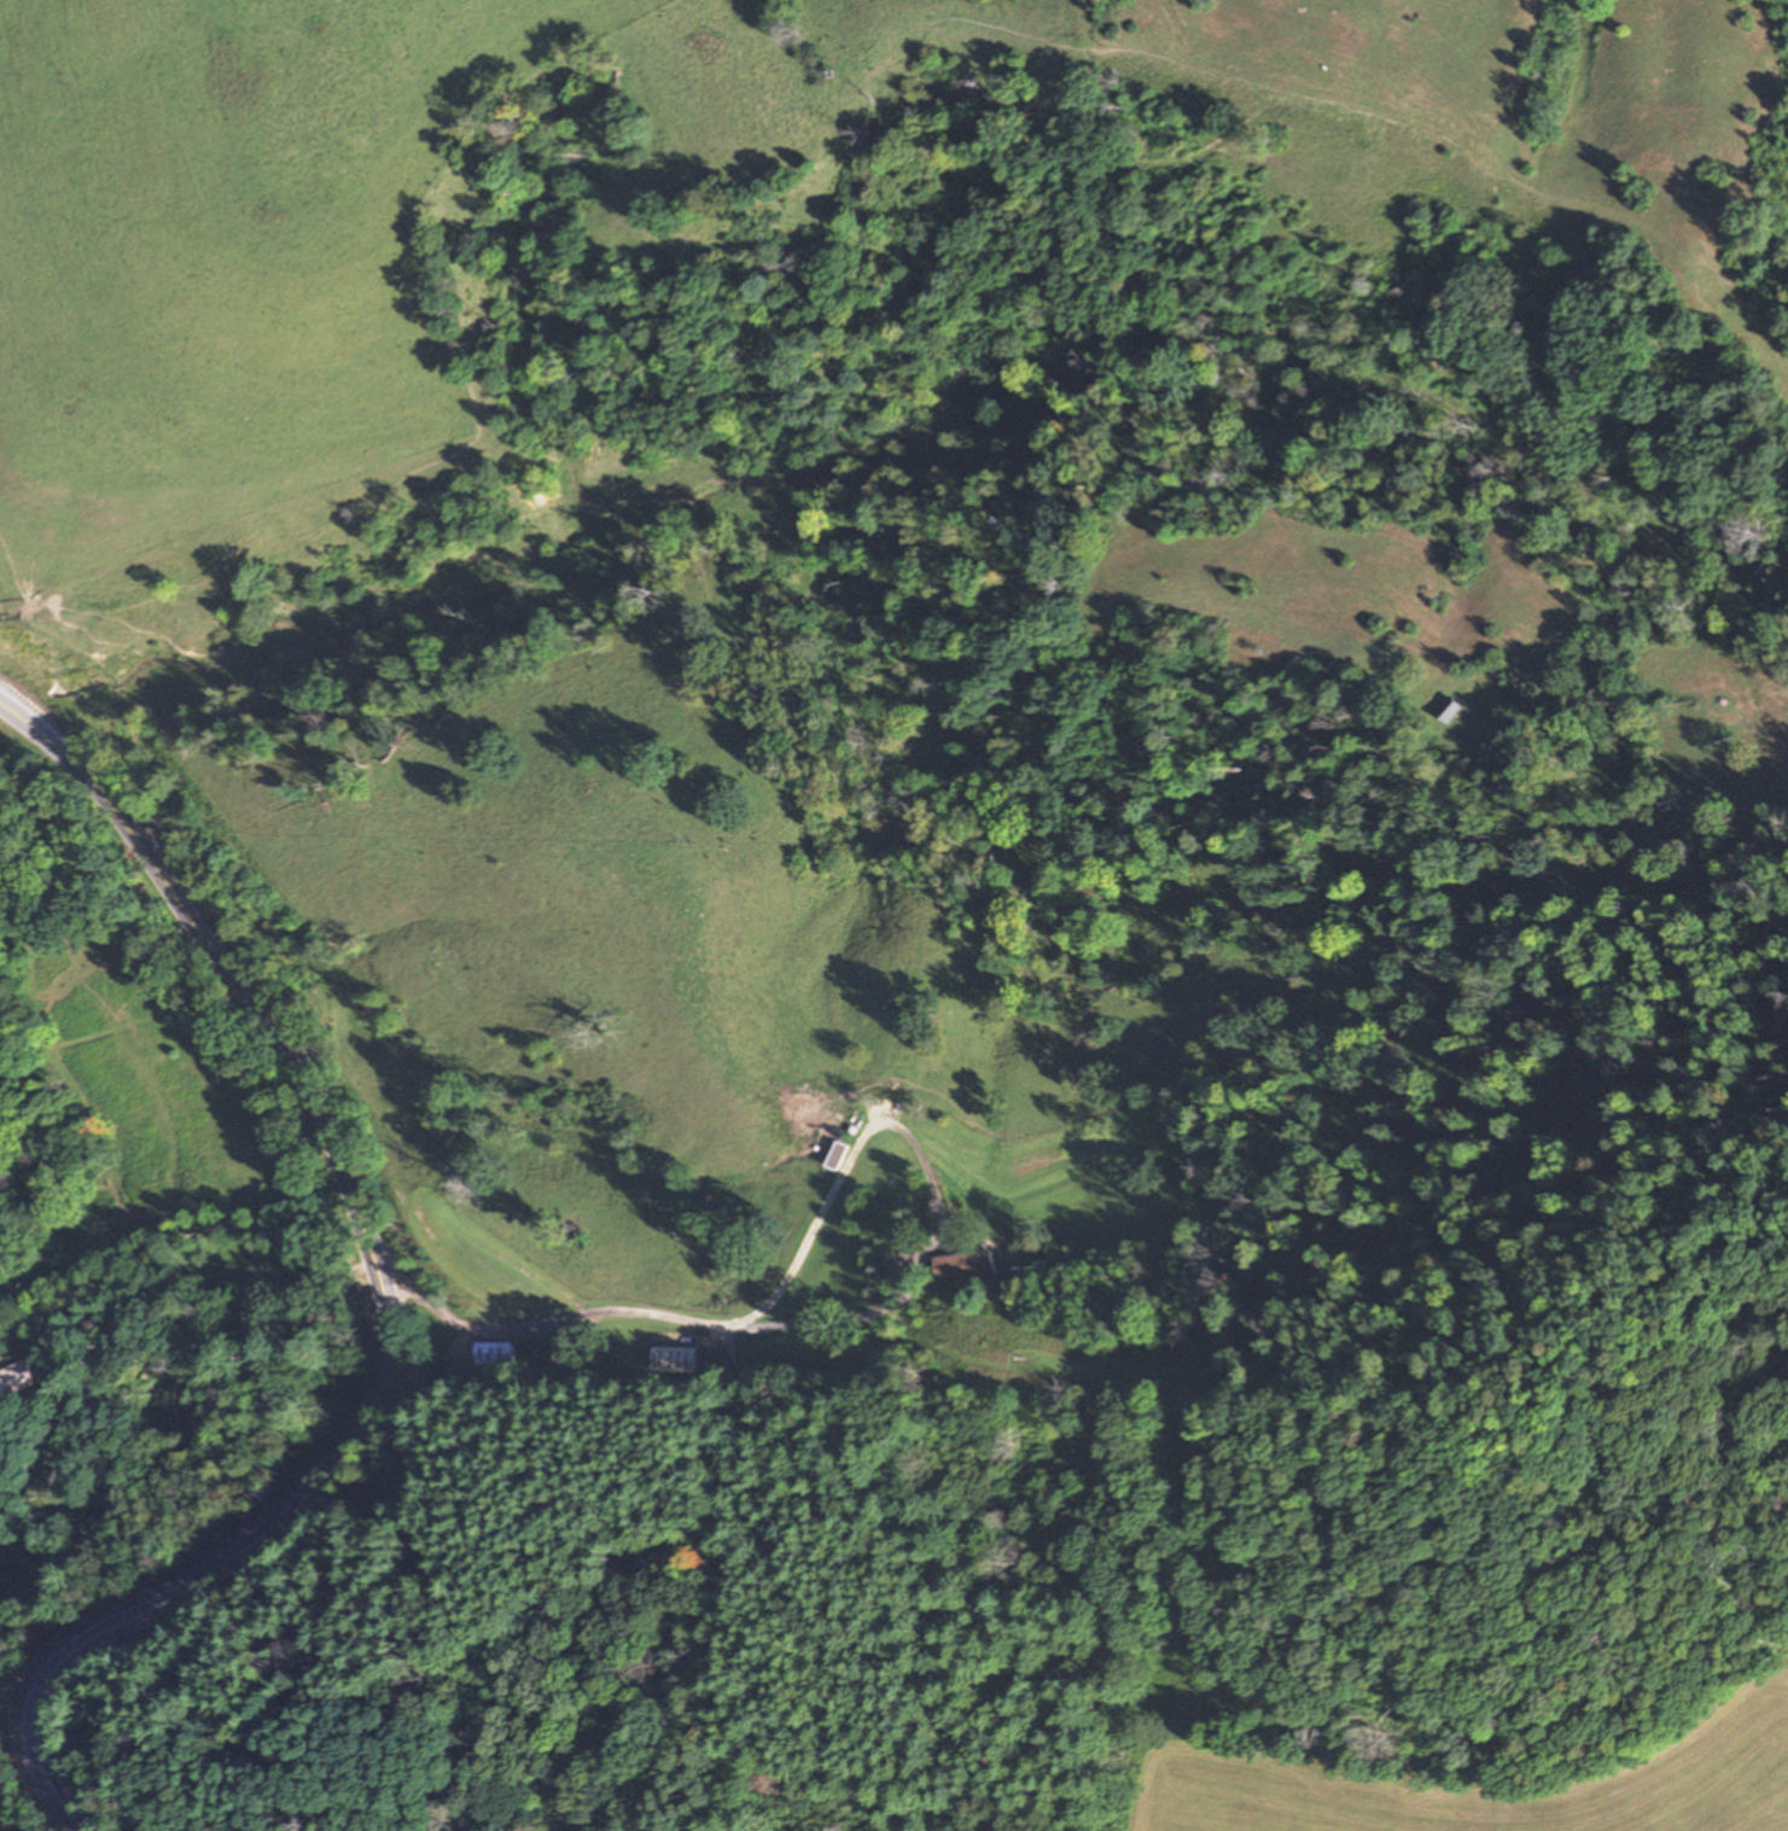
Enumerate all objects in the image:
building: (1454, 710)
building: (965, 1266)
road: (385, 1294)
road: (901, 1308)
building: (493, 1354)
building: (677, 1359)
building: (18, 1381)

